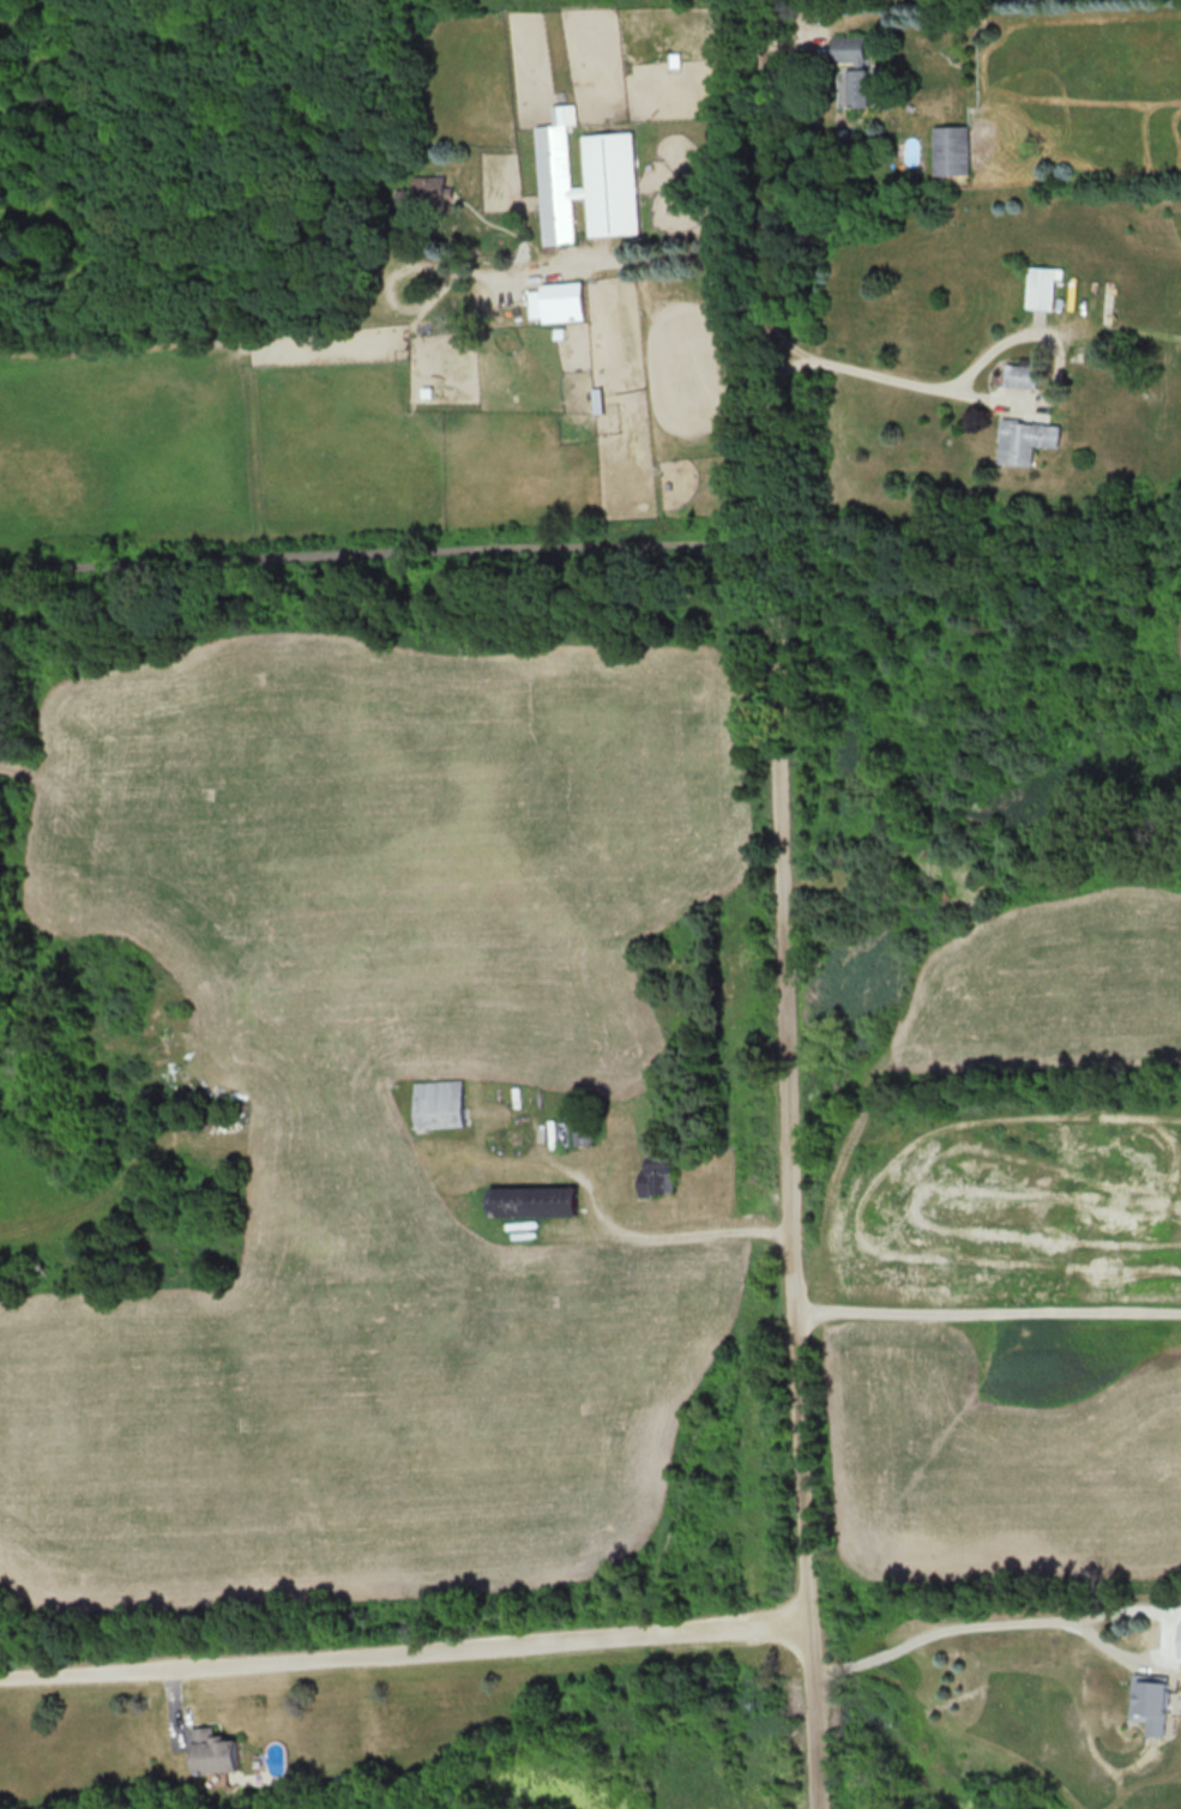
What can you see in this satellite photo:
building: (854, 68)
building: (951, 150)
building: (585, 180)
building: (430, 188)
road: (622, 260)
building: (1042, 287)
building: (558, 301)
road: (893, 375)
building: (1023, 375)
building: (1028, 440)
road: (385, 547)
road: (782, 904)
building: (439, 1103)
building: (658, 1176)
building: (532, 1200)
road: (608, 1231)
road: (987, 1313)
road: (1055, 1624)
building: (1180, 1640)
road: (403, 1656)
building: (1150, 1701)
building: (213, 1751)

